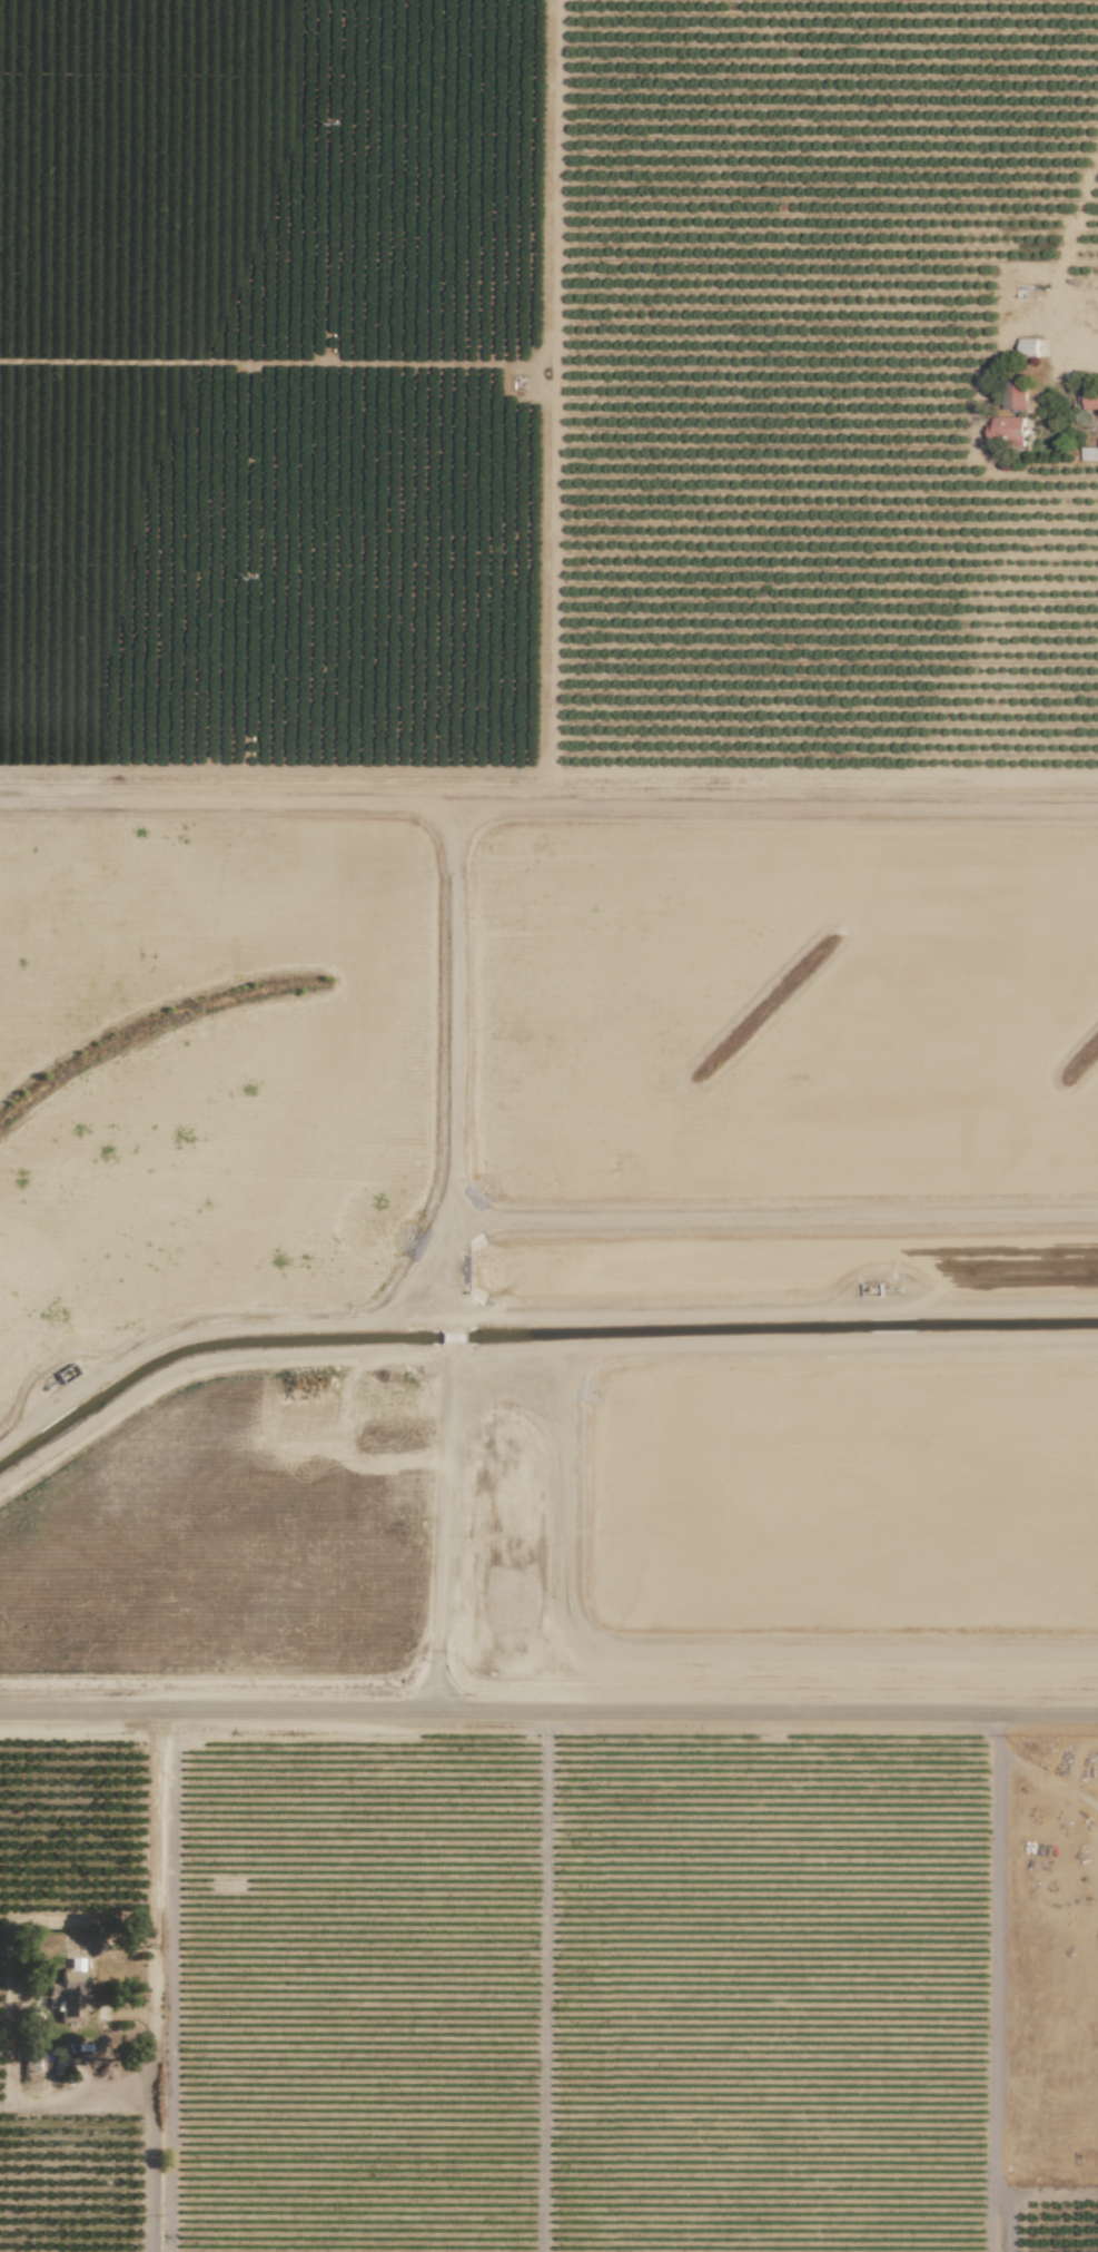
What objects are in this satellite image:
building: (1027, 345)
building: (1091, 400)
building: (1090, 454)
road: (548, 1713)
road: (151, 1965)
building: (68, 1995)
road: (147, 2161)

